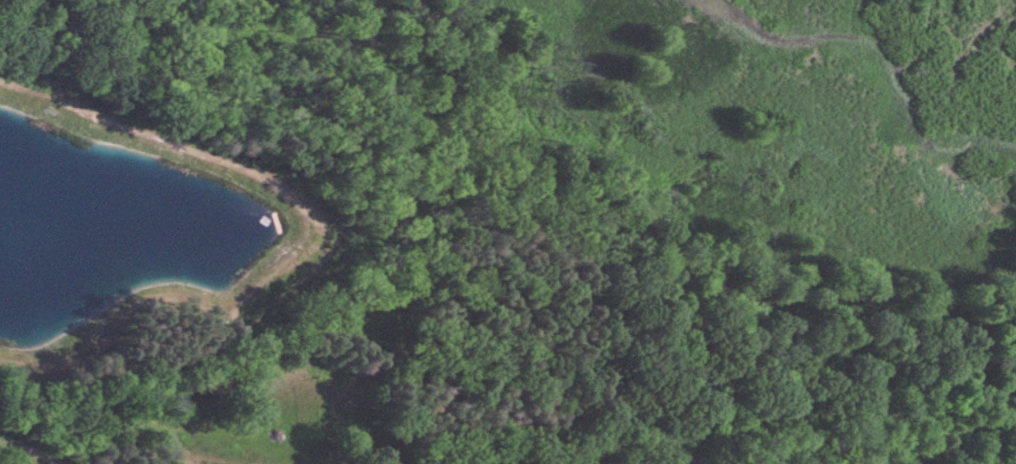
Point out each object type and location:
building: (197, 459)

